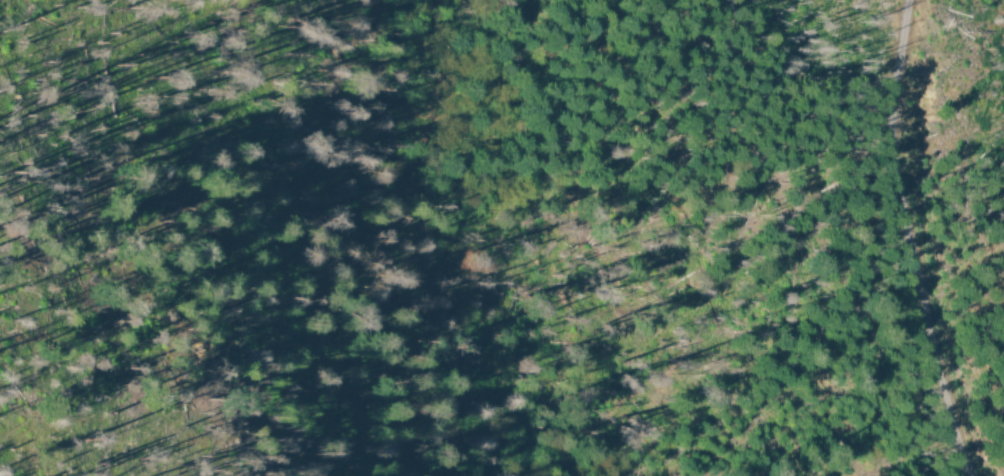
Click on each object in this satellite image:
road: (920, 240)

